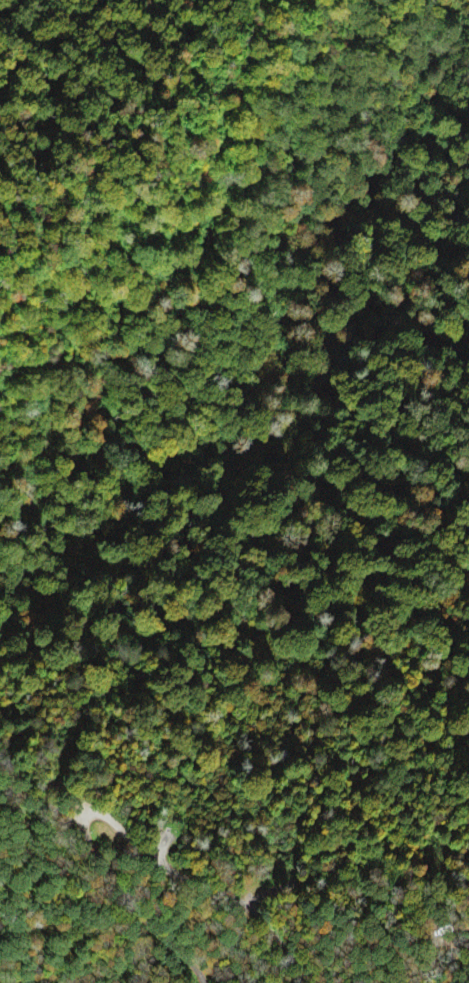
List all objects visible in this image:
road: (121, 827)

